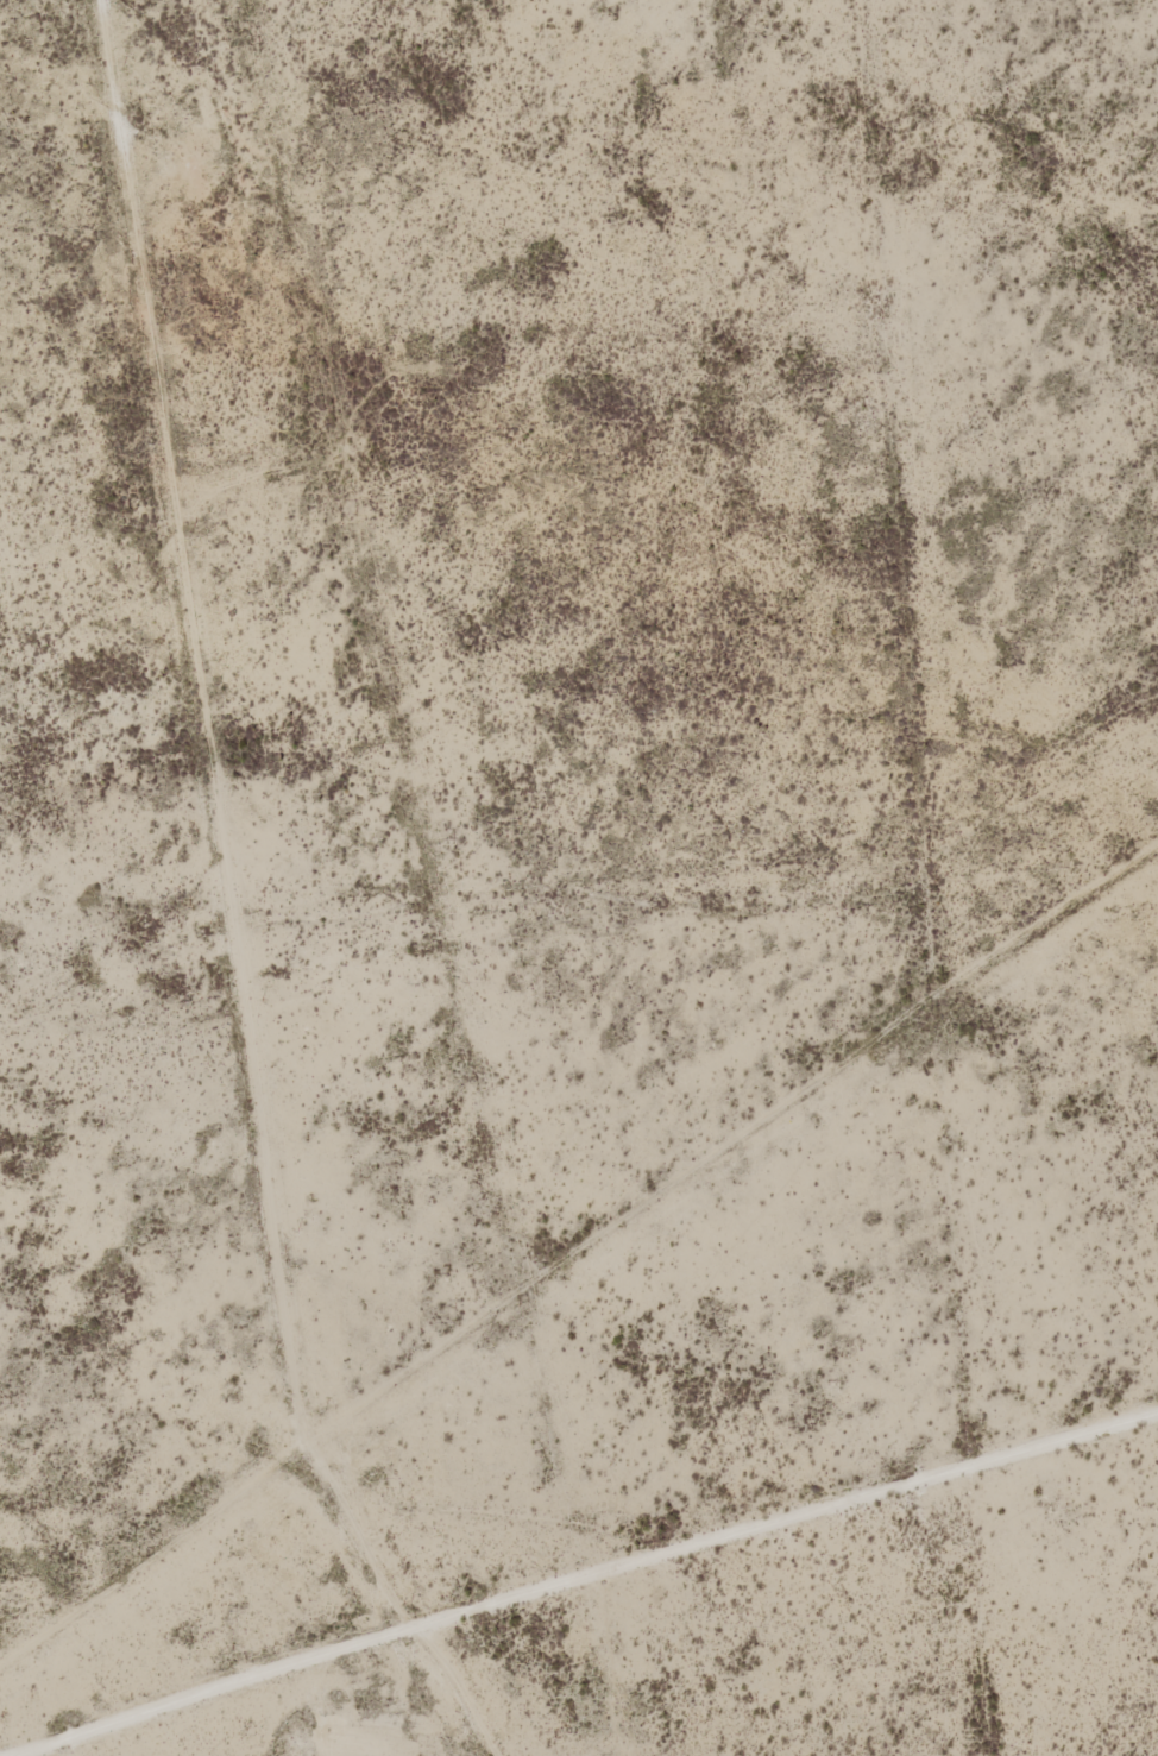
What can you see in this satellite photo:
road: (591, 1593)

